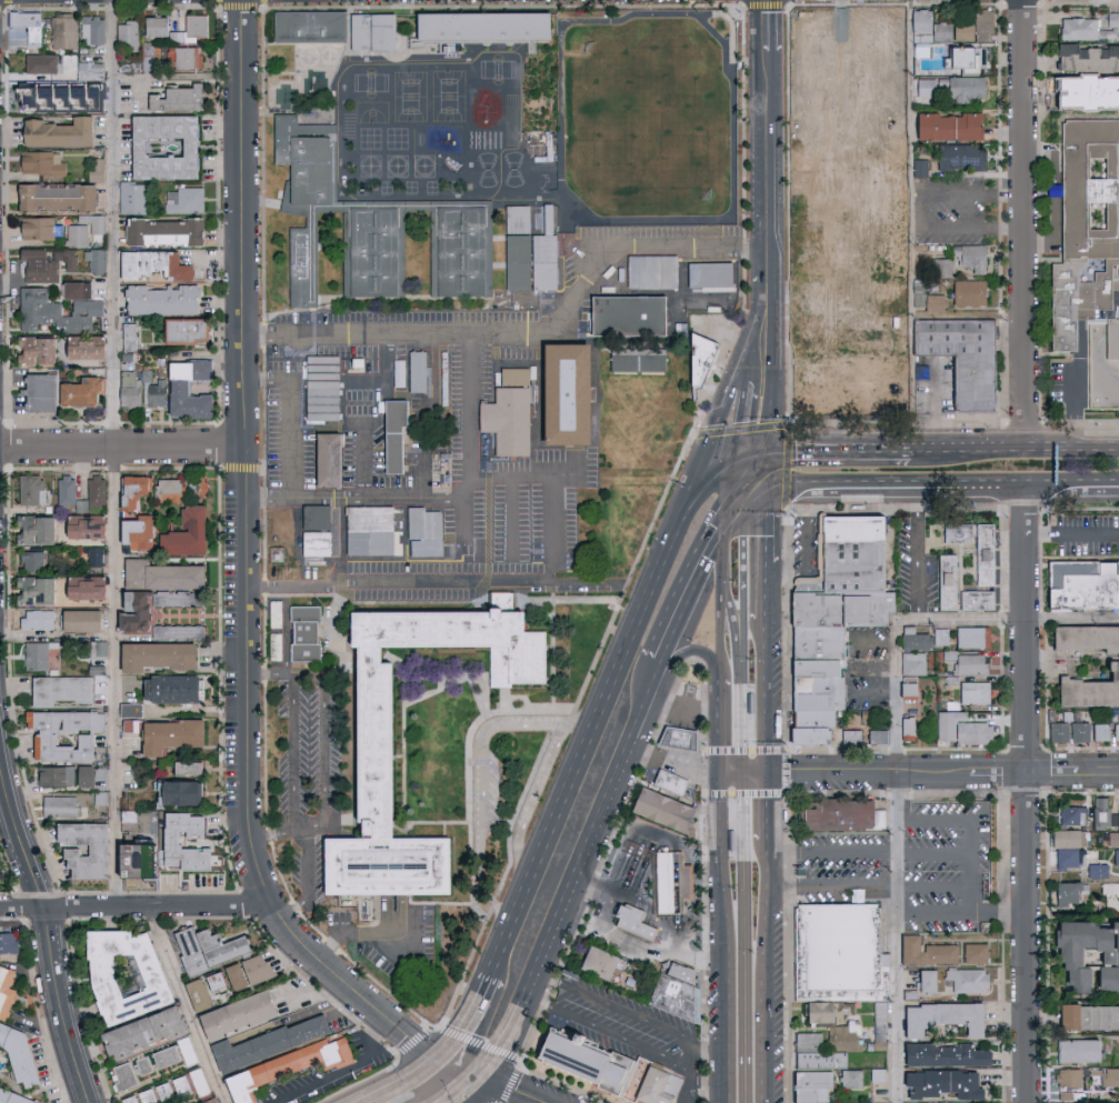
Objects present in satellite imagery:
road: (768, 12)
road: (725, 14)
building: (918, 21)
building: (980, 24)
building: (29, 27)
building: (483, 27)
building: (158, 28)
building: (311, 28)
building: (1076, 28)
building: (1109, 28)
building: (192, 29)
building: (960, 29)
building: (93, 31)
building: (939, 31)
building: (64, 32)
building: (372, 32)
road: (732, 33)
building: (128, 34)
road: (768, 39)
building: (920, 44)
building: (149, 54)
building: (958, 57)
building: (1086, 57)
building: (184, 59)
building: (42, 64)
building: (90, 71)
building: (922, 87)
building: (959, 87)
building: (39, 90)
building: (177, 99)
building: (83, 100)
park: (652, 117)
building: (946, 126)
building: (61, 133)
building: (164, 148)
building: (959, 157)
building: (44, 163)
road: (769, 164)
building: (849, 166)
building: (918, 167)
building: (98, 170)
road: (975, 194)
road: (1043, 197)
building: (59, 198)
building: (133, 198)
building: (184, 200)
parking lot: (963, 211)
road: (728, 215)
road: (1026, 223)
building: (99, 224)
road: (909, 225)
road: (975, 227)
building: (374, 228)
building: (41, 229)
building: (166, 232)
building: (78, 237)
building: (868, 241)
building: (518, 248)
building: (546, 255)
building: (968, 257)
building: (97, 262)
building: (47, 264)
building: (156, 265)
building: (939, 267)
building: (1090, 271)
building: (652, 272)
building: (710, 275)
building: (806, 285)
building: (966, 291)
building: (164, 300)
building: (932, 302)
building: (705, 304)
building: (815, 304)
building: (60, 309)
building: (629, 317)
road: (760, 317)
building: (797, 331)
building: (189, 332)
road: (533, 332)
building: (130, 337)
building: (88, 349)
building: (38, 351)
building: (965, 358)
building: (638, 361)
building: (702, 362)
road: (776, 362)
road: (389, 379)
road: (290, 380)
building: (131, 389)
building: (190, 390)
building: (83, 392)
building: (41, 393)
building: (156, 394)
building: (568, 394)
road: (745, 402)
road: (936, 405)
building: (509, 413)
road: (472, 415)
building: (347, 417)
road: (328, 422)
road: (720, 424)
road: (742, 429)
road: (423, 447)
road: (123, 448)
road: (1013, 448)
road: (756, 450)
traffic signals: (770, 450)
traffic signals: (742, 451)
road: (839, 451)
road: (117, 453)
road: (737, 453)
road: (769, 471)
road: (710, 472)
road: (739, 477)
road: (527, 479)
building: (198, 489)
road: (942, 489)
building: (33, 490)
building: (97, 491)
building: (134, 491)
building: (169, 491)
building: (67, 492)
road: (765, 492)
traffic signals: (768, 492)
road: (378, 495)
road: (747, 495)
traffic signals: (736, 502)
road: (510, 515)
road: (553, 520)
building: (88, 529)
building: (37, 530)
building: (318, 531)
building: (371, 532)
building: (426, 532)
parking lot: (532, 532)
building: (955, 532)
building: (139, 533)
building: (188, 533)
road: (1072, 534)
parking lot: (1083, 534)
road: (343, 540)
road: (726, 541)
road: (807, 548)
parking lot: (807, 549)
building: (980, 554)
road: (766, 555)
building: (860, 555)
road: (917, 556)
building: (93, 558)
building: (33, 561)
road: (742, 564)
road: (548, 570)
building: (162, 575)
road: (693, 581)
parking lot: (416, 582)
building: (945, 582)
road: (478, 583)
road: (297, 585)
building: (1086, 588)
building: (88, 589)
road: (249, 591)
building: (37, 592)
building: (972, 600)
building: (277, 609)
building: (847, 611)
road: (732, 612)
building: (38, 620)
building: (137, 620)
building: (82, 621)
road: (930, 623)
road: (720, 630)
building: (179, 632)
road: (60, 634)
building: (307, 634)
building: (970, 636)
building: (1087, 638)
building: (912, 639)
road: (873, 642)
building: (823, 645)
building: (99, 649)
road: (697, 650)
building: (37, 656)
building: (159, 658)
building: (911, 662)
building: (969, 663)
building: (174, 690)
road: (873, 690)
building: (903, 690)
building: (61, 691)
building: (1091, 691)
building: (972, 692)
building: (820, 694)
road: (765, 695)
road: (647, 700)
building: (750, 703)
building: (131, 711)
road: (326, 720)
building: (948, 723)
road: (720, 726)
building: (905, 728)
building: (1100, 731)
building: (1116, 731)
building: (973, 732)
building: (1057, 732)
building: (1079, 732)
road: (590, 734)
building: (66, 735)
building: (171, 735)
building: (802, 735)
building: (877, 735)
building: (852, 736)
building: (681, 742)
road: (746, 749)
road: (294, 755)
parking lot: (310, 755)
building: (376, 762)
road: (787, 762)
road: (673, 763)
building: (190, 769)
road: (742, 773)
traffic signals: (742, 773)
traffic signals: (766, 773)
road: (942, 773)
traffic signals: (721, 774)
building: (57, 775)
road: (483, 775)
building: (87, 776)
building: (672, 785)
building: (181, 793)
road: (745, 793)
road: (1029, 795)
building: (101, 798)
road: (766, 806)
building: (63, 808)
building: (656, 810)
building: (1103, 814)
building: (1070, 815)
building: (848, 818)
road: (952, 818)
building: (1065, 838)
building: (1112, 839)
building: (732, 841)
building: (173, 843)
building: (142, 845)
building: (87, 850)
road: (870, 853)
road: (310, 854)
building: (1115, 856)
building: (1067, 858)
parking lot: (913, 870)
road: (973, 870)
building: (1095, 870)
road: (703, 872)
road: (742, 873)
building: (0, 876)
road: (721, 878)
building: (676, 886)
road: (870, 888)
building: (1068, 892)
road: (975, 901)
road: (134, 906)
road: (562, 910)
road: (963, 914)
building: (626, 920)
road: (50, 930)
road: (763, 935)
road: (353, 937)
road: (899, 937)
building: (9, 944)
building: (1113, 944)
building: (209, 950)
building: (1075, 951)
building: (923, 952)
building: (972, 953)
road: (695, 955)
building: (843, 957)
building: (592, 963)
building: (1, 966)
building: (250, 973)
building: (127, 975)
building: (966, 980)
building: (217, 981)
building: (923, 981)
building: (7, 993)
building: (199, 994)
building: (682, 996)
road: (189, 1005)
building: (813, 1012)
building: (239, 1015)
building: (1065, 1016)
building: (939, 1017)
building: (1097, 1017)
road: (471, 1020)
building: (146, 1033)
building: (842, 1039)
road: (728, 1042)
building: (271, 1044)
building: (1118, 1045)
building: (812, 1046)
building: (1075, 1050)
building: (20, 1054)
building: (176, 1054)
building: (941, 1055)
road: (688, 1056)
traffic signals: (442, 1060)
building: (576, 1061)
building: (825, 1064)
building: (143, 1066)
road: (760, 1066)
building: (288, 1067)
road: (346, 1069)
traffic signals: (480, 1075)
building: (875, 1075)
building: (1109, 1075)
building: (126, 1077)
building: (1065, 1077)
building: (881, 1079)
road: (438, 1081)
road: (404, 1082)
building: (856, 1082)
road: (687, 1084)
building: (939, 1084)
building: (190, 1085)
building: (653, 1086)
road: (480, 1089)
road: (512, 1089)
building: (817, 1089)
road: (463, 1091)
building: (166, 1093)
building: (148, 1096)
building: (13, 1097)
building: (130, 1100)
building: (211, 1101)
building: (927, 1102)

